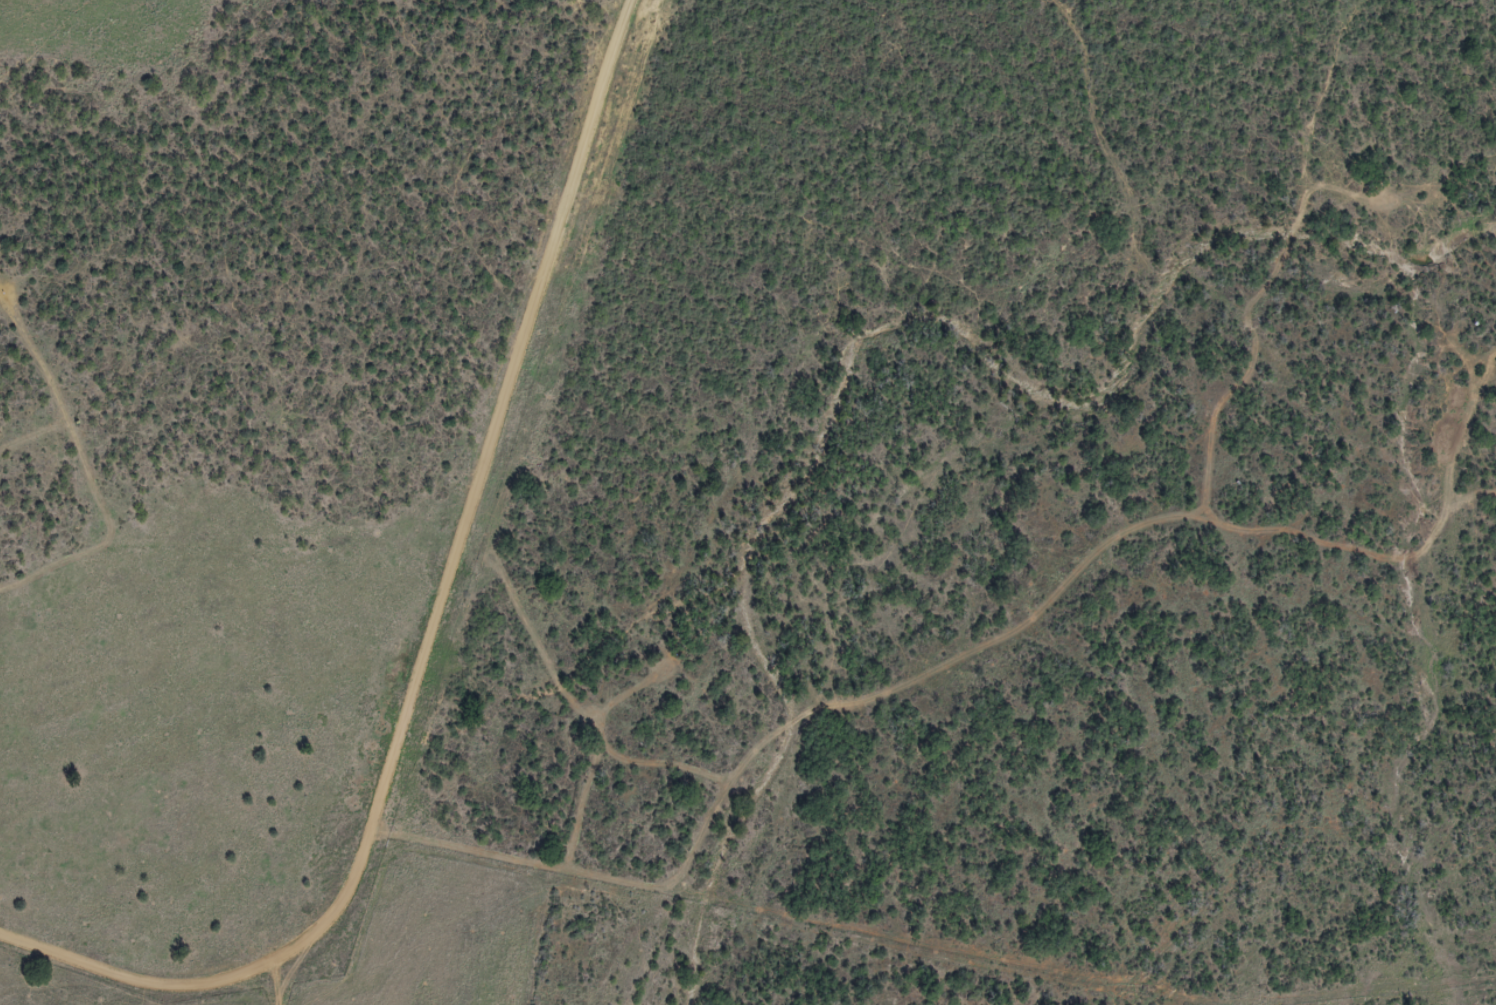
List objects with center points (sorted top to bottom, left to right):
road: (431, 632)

